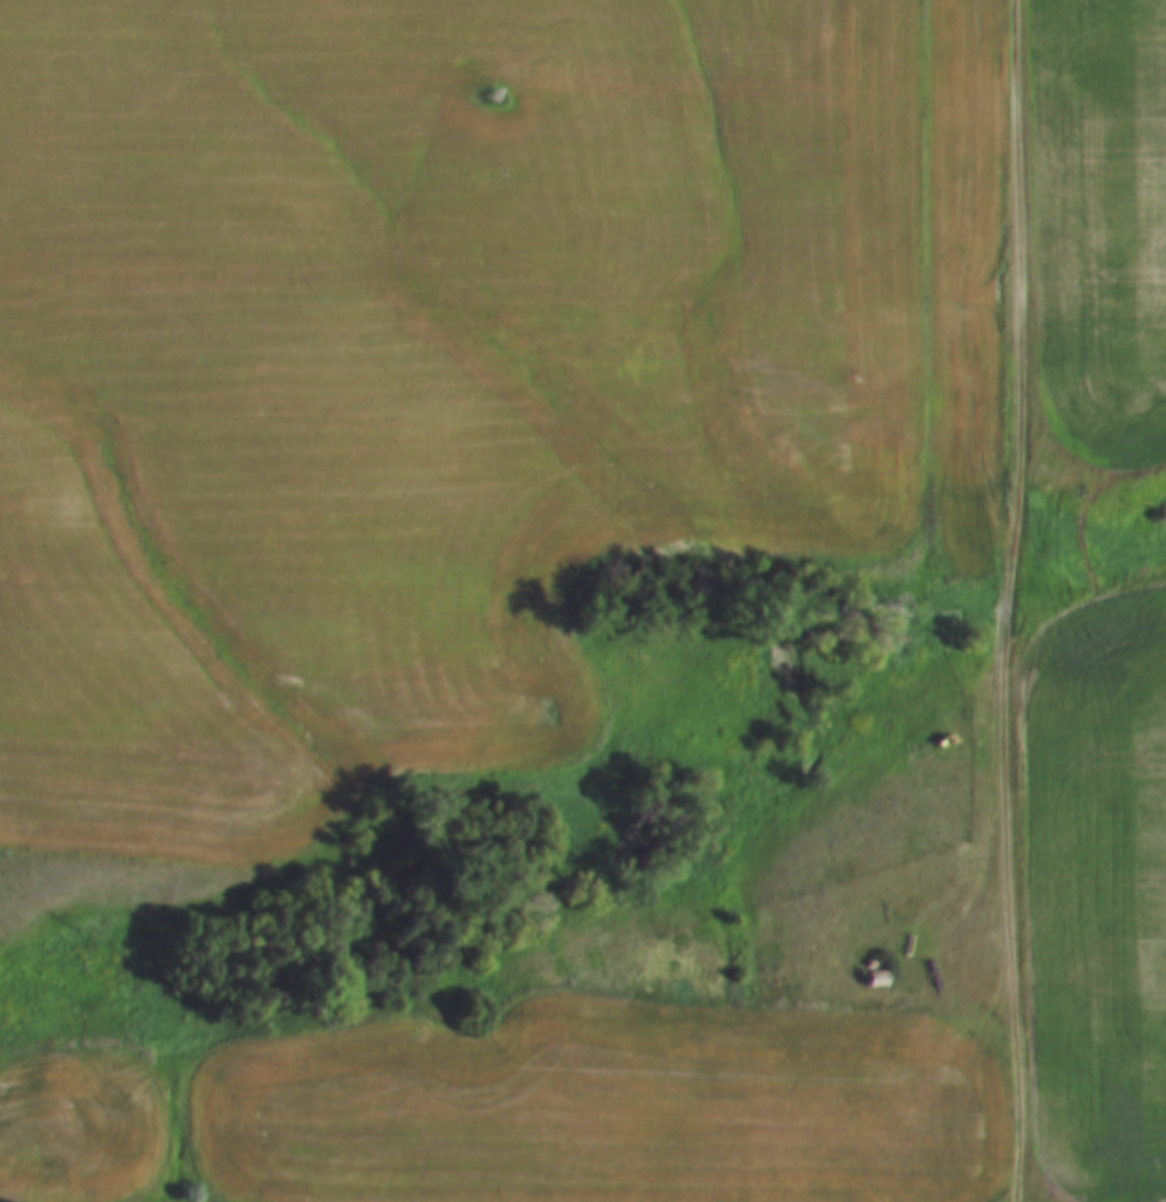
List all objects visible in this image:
road: (1040, 602)
building: (874, 958)
building: (876, 974)
building: (870, 980)

